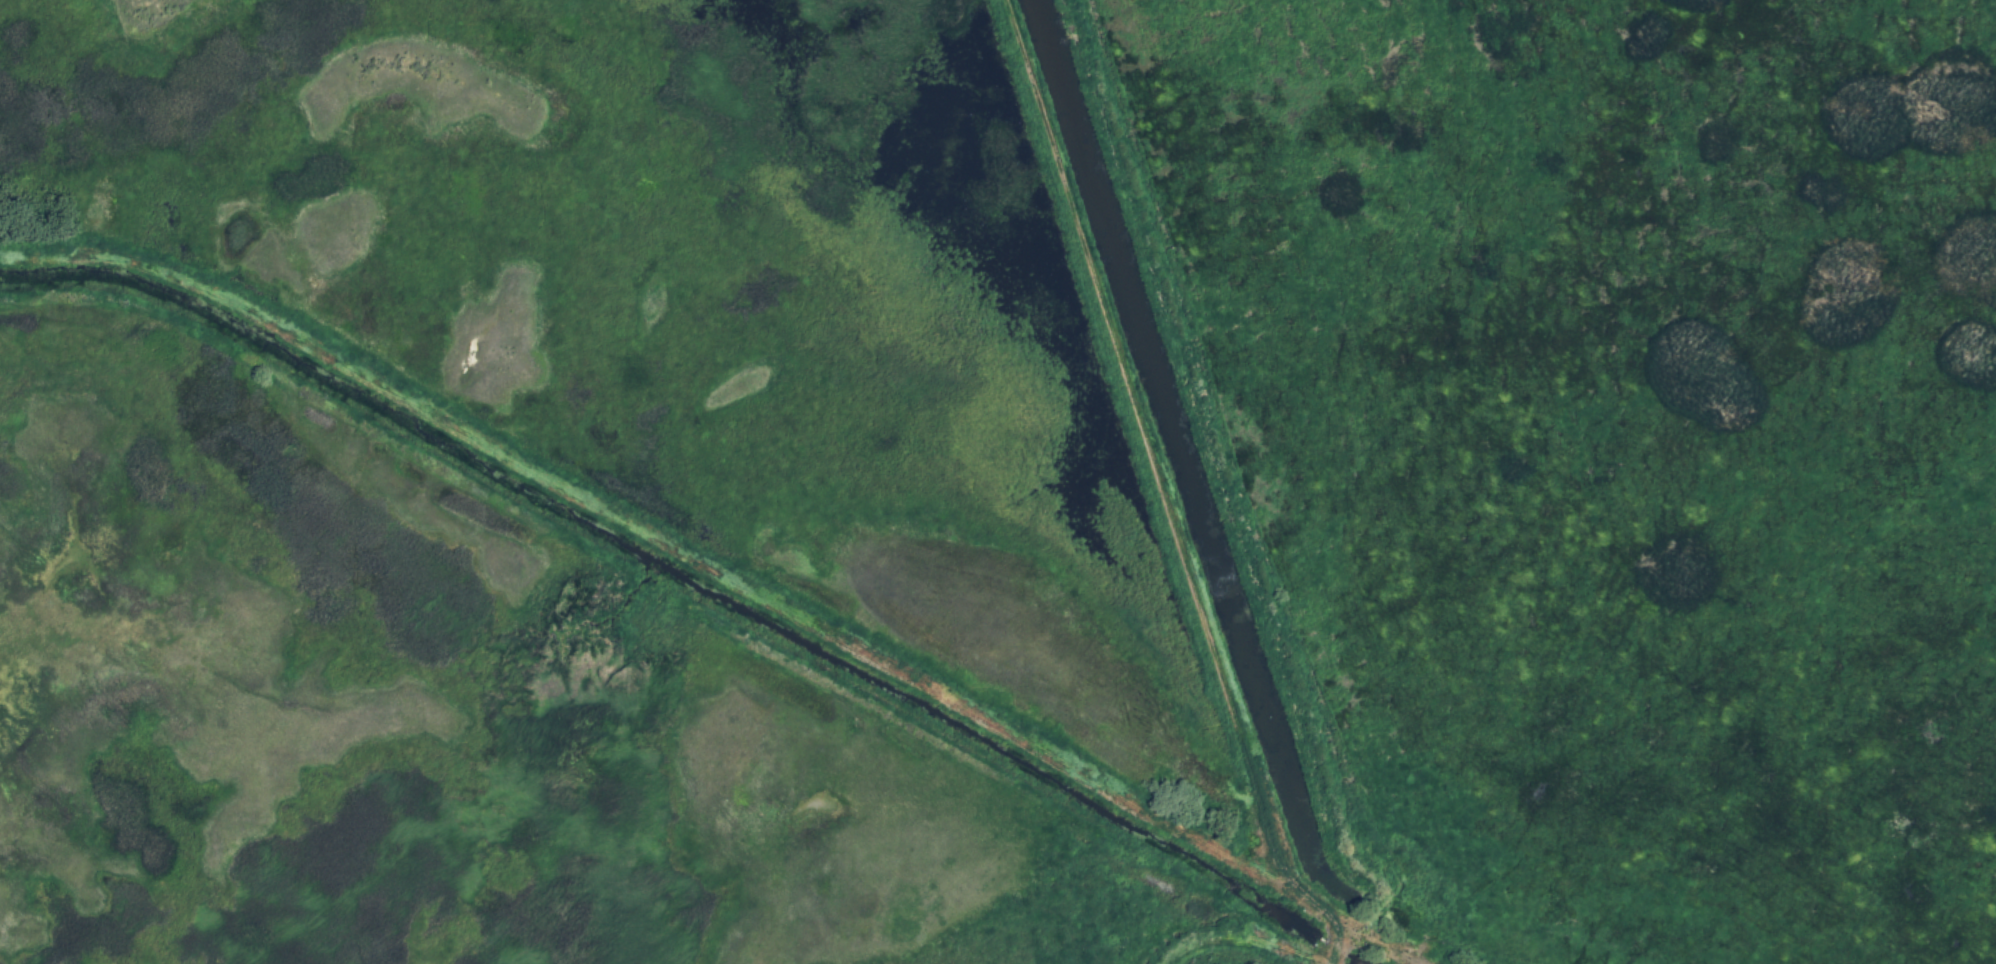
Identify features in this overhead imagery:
road: (1278, 856)

